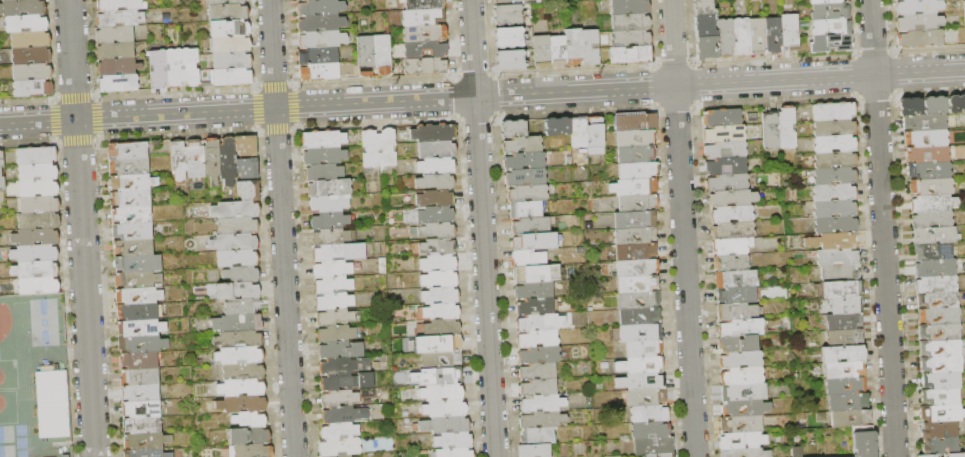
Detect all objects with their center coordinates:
building: (8, 0)
building: (300, 0)
building: (224, 2)
building: (514, 2)
building: (825, 2)
building: (424, 4)
building: (119, 5)
building: (629, 7)
building: (919, 7)
building: (964, 7)
building: (23, 8)
building: (320, 8)
building: (704, 8)
building: (831, 11)
building: (228, 13)
building: (508, 15)
building: (424, 17)
building: (120, 18)
building: (631, 23)
building: (919, 23)
building: (27, 24)
building: (321, 24)
building: (704, 26)
building: (832, 27)
building: (231, 29)
building: (790, 32)
building: (425, 34)
building: (115, 35)
building: (757, 36)
building: (774, 36)
building: (725, 37)
building: (742, 37)
building: (509, 38)
building: (631, 39)
building: (920, 39)
building: (30, 40)
building: (322, 40)
building: (832, 43)
building: (232, 45)
building: (574, 47)
building: (590, 47)
building: (706, 48)
building: (426, 50)
building: (542, 51)
building: (558, 51)
road: (929, 51)
building: (115, 52)
road: (874, 52)
road: (892, 53)
road: (854, 54)
building: (382, 55)
building: (632, 55)
building: (31, 56)
building: (318, 56)
building: (365, 56)
road: (773, 60)
building: (232, 61)
building: (510, 61)
road: (673, 64)
road: (691, 64)
road: (654, 65)
building: (117, 67)
building: (426, 67)
building: (191, 68)
building: (174, 69)
building: (158, 70)
road: (574, 71)
building: (32, 72)
building: (320, 73)
road: (894, 73)
road: (474, 74)
road: (493, 75)
road: (855, 75)
building: (233, 77)
road: (455, 77)
road: (374, 82)
building: (118, 83)
road: (694, 84)
road: (274, 85)
road: (292, 86)
road: (255, 87)
road: (655, 87)
building: (33, 89)
road: (930, 90)
road: (174, 93)
road: (894, 93)
road: (495, 95)
road: (857, 95)
road: (92, 96)
road: (482, 96)
road: (876, 96)
road: (74, 97)
road: (55, 98)
road: (457, 98)
road: (776, 99)
road: (27, 101)
building: (956, 104)
road: (694, 105)
building: (935, 105)
road: (294, 106)
road: (657, 107)
road: (675, 107)
building: (911, 107)
road: (256, 109)
building: (832, 109)
road: (576, 111)
building: (721, 115)
road: (495, 116)
road: (95, 117)
road: (476, 117)
road: (458, 118)
road: (56, 120)
road: (377, 122)
building: (925, 122)
building: (833, 125)
road: (295, 127)
building: (785, 127)
road: (276, 128)
road: (258, 129)
building: (555, 129)
building: (722, 130)
building: (769, 130)
building: (511, 131)
building: (593, 132)
road: (177, 133)
building: (430, 134)
building: (576, 134)
building: (633, 136)
road: (95, 138)
building: (927, 138)
road: (58, 140)
road: (76, 140)
building: (320, 140)
road: (28, 141)
building: (834, 141)
building: (521, 146)
building: (724, 146)
building: (244, 147)
building: (385, 148)
building: (369, 150)
building: (434, 150)
building: (126, 151)
building: (634, 151)
building: (928, 155)
building: (321, 156)
building: (34, 157)
building: (835, 158)
building: (225, 159)
building: (194, 160)
building: (210, 160)
building: (523, 161)
building: (177, 162)
building: (725, 163)
building: (435, 166)
building: (635, 167)
building: (126, 169)
building: (245, 169)
building: (930, 171)
building: (322, 172)
building: (34, 173)
building: (1, 175)
building: (833, 175)
building: (524, 179)
building: (726, 179)
building: (431, 183)
building: (633, 183)
building: (127, 185)
building: (943, 187)
building: (35, 189)
building: (327, 190)
building: (833, 191)
building: (247, 192)
building: (524, 195)
building: (731, 195)
building: (635, 199)
building: (432, 200)
building: (128, 202)
building: (934, 204)
building: (35, 205)
building: (327, 206)
building: (833, 206)
building: (524, 210)
building: (233, 211)
building: (729, 211)
building: (433, 216)
building: (631, 216)
building: (129, 217)
building: (933, 219)
building: (36, 221)
building: (328, 222)
building: (528, 223)
building: (834, 223)
building: (236, 227)
building: (729, 227)
road: (81, 228)
road: (281, 228)
road: (482, 228)
road: (682, 228)
road: (883, 228)
building: (434, 231)
building: (631, 232)
building: (129, 233)
building: (935, 236)
building: (32, 237)
building: (329, 238)
building: (531, 238)
building: (836, 239)
building: (731, 243)
building: (237, 244)
building: (434, 247)
building: (131, 249)
building: (633, 249)
building: (934, 252)
building: (33, 253)
building: (335, 255)
building: (527, 256)
building: (836, 256)
building: (729, 259)
building: (238, 260)
building: (136, 265)
building: (435, 265)
building: (633, 266)
building: (936, 268)
building: (33, 269)
building: (329, 271)
building: (837, 271)
building: (527, 272)
building: (237, 276)
building: (733, 276)
building: (137, 281)
building: (436, 282)
building: (634, 283)
building: (34, 285)
building: (937, 285)
building: (838, 286)
building: (330, 288)
building: (532, 289)
building: (238, 292)
building: (734, 293)
building: (138, 297)
building: (437, 298)
building: (634, 298)
building: (949, 301)
building: (330, 303)
building: (844, 303)
building: (533, 305)
building: (734, 309)
building: (240, 310)
building: (136, 314)
building: (438, 314)
building: (636, 315)
building: (950, 317)
building: (333, 319)
building: (841, 319)
park: (4, 320)
building: (533, 321)
park: (43, 322)
building: (737, 325)
building: (240, 327)
building: (140, 329)
building: (438, 331)
building: (637, 331)
building: (951, 333)
building: (334, 335)
building: (842, 335)
building: (534, 337)
building: (725, 342)
building: (744, 342)
building: (236, 343)
building: (141, 346)
building: (439, 346)
building: (640, 347)
building: (952, 349)
building: (337, 352)
building: (840, 352)
building: (535, 353)
building: (736, 357)
building: (237, 359)
building: (138, 362)
building: (439, 363)
building: (641, 363)
building: (953, 366)
building: (340, 367)
building: (536, 369)
building: (841, 369)
building: (240, 374)
building: (737, 374)
building: (139, 378)
building: (638, 380)
building: (438, 381)
building: (942, 381)
building: (342, 384)
building: (842, 385)
building: (536, 386)
building: (739, 390)
building: (241, 391)
building: (140, 395)
building: (642, 396)
building: (438, 397)
building: (941, 397)
building: (338, 401)
building: (843, 401)
building: (540, 402)
building: (51, 404)
building: (742, 406)
building: (242, 408)
building: (140, 411)
building: (645, 411)
building: (439, 413)
building: (942, 413)
building: (848, 417)
building: (339, 418)
building: (539, 418)
building: (740, 423)
building: (246, 426)
building: (140, 428)
building: (648, 428)
building: (442, 430)
building: (940, 430)
building: (536, 434)
building: (339, 435)
building: (742, 439)
park: (6, 441)
building: (146, 443)
building: (247, 443)
building: (863, 443)
building: (651, 445)
building: (448, 446)
building: (941, 446)
building: (531, 449)
building: (338, 450)
building: (743, 451)
building: (793, 451)
building: (253, 453)
building: (147, 454)
building: (450, 454)
building: (658, 455)
building: (956, 455)
building: (830, 456)
building: (928, 456)

